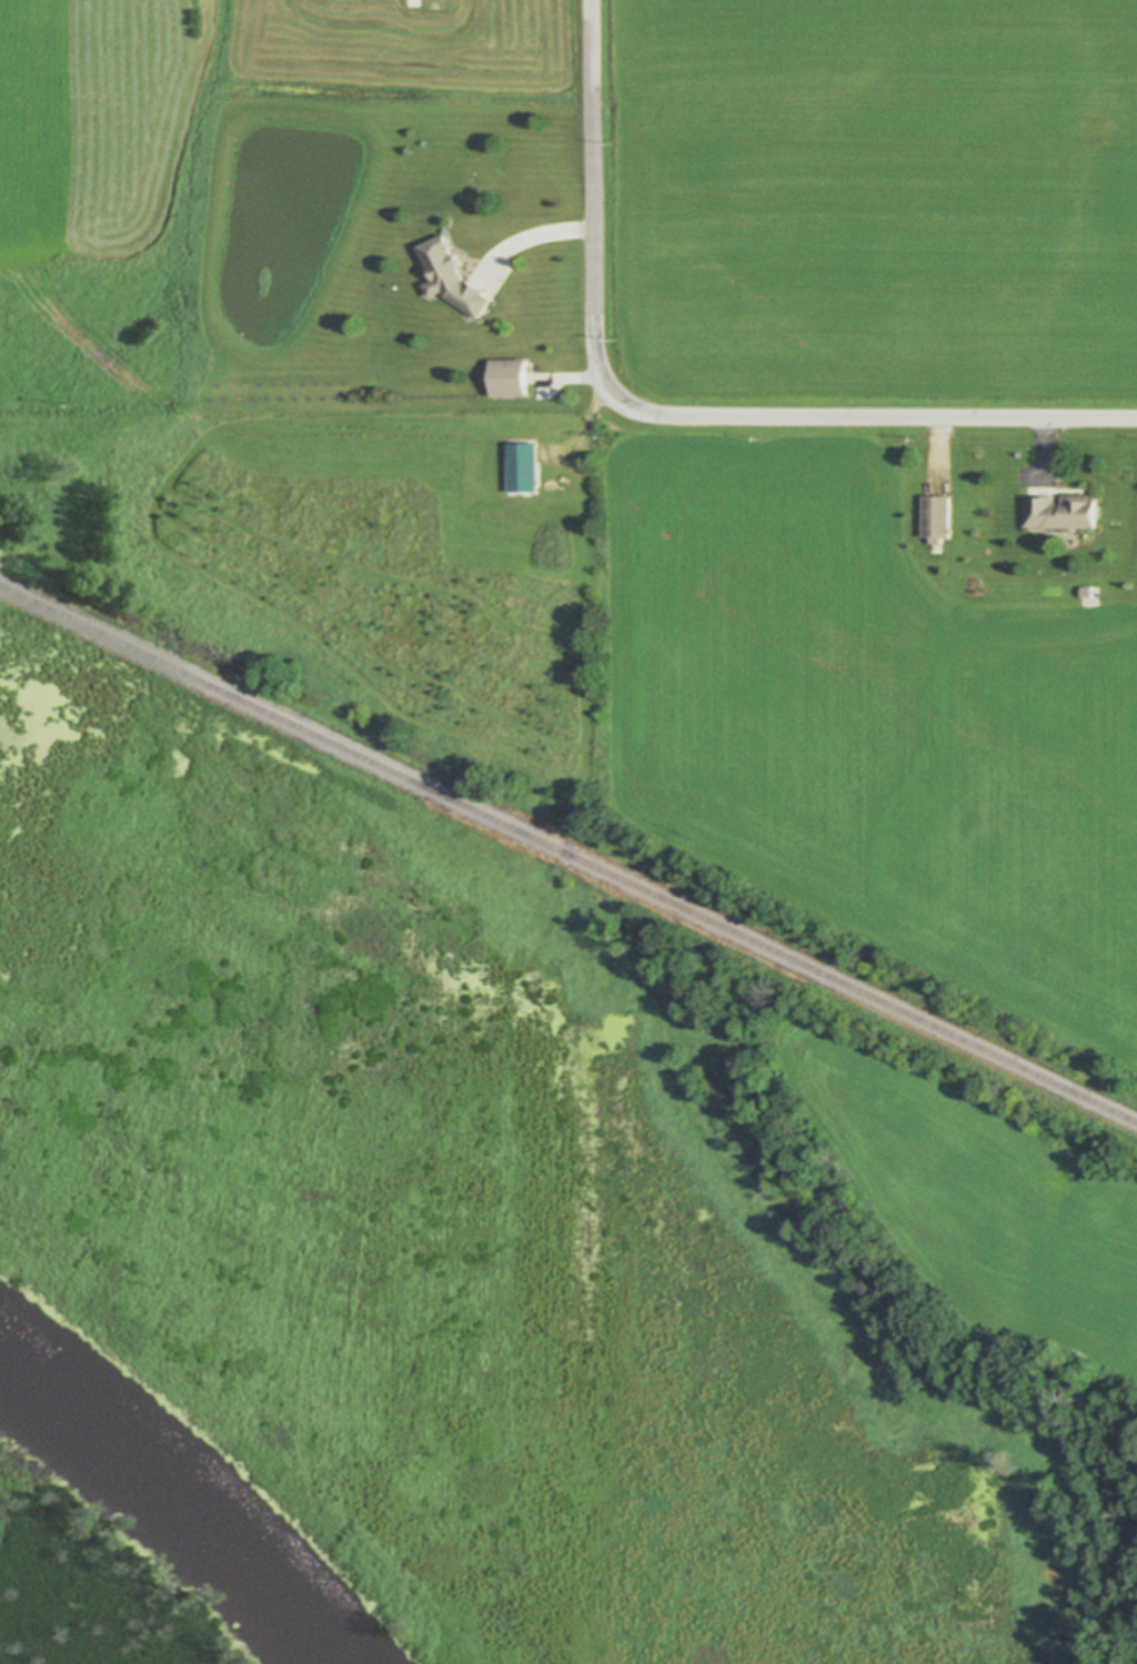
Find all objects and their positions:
road: (591, 226)
road: (531, 241)
building: (455, 278)
building: (513, 377)
road: (898, 418)
road: (586, 430)
building: (526, 467)
building: (1066, 512)
building: (940, 520)
building: (1090, 592)
road: (586, 689)
railway: (567, 855)
river: (181, 1500)

